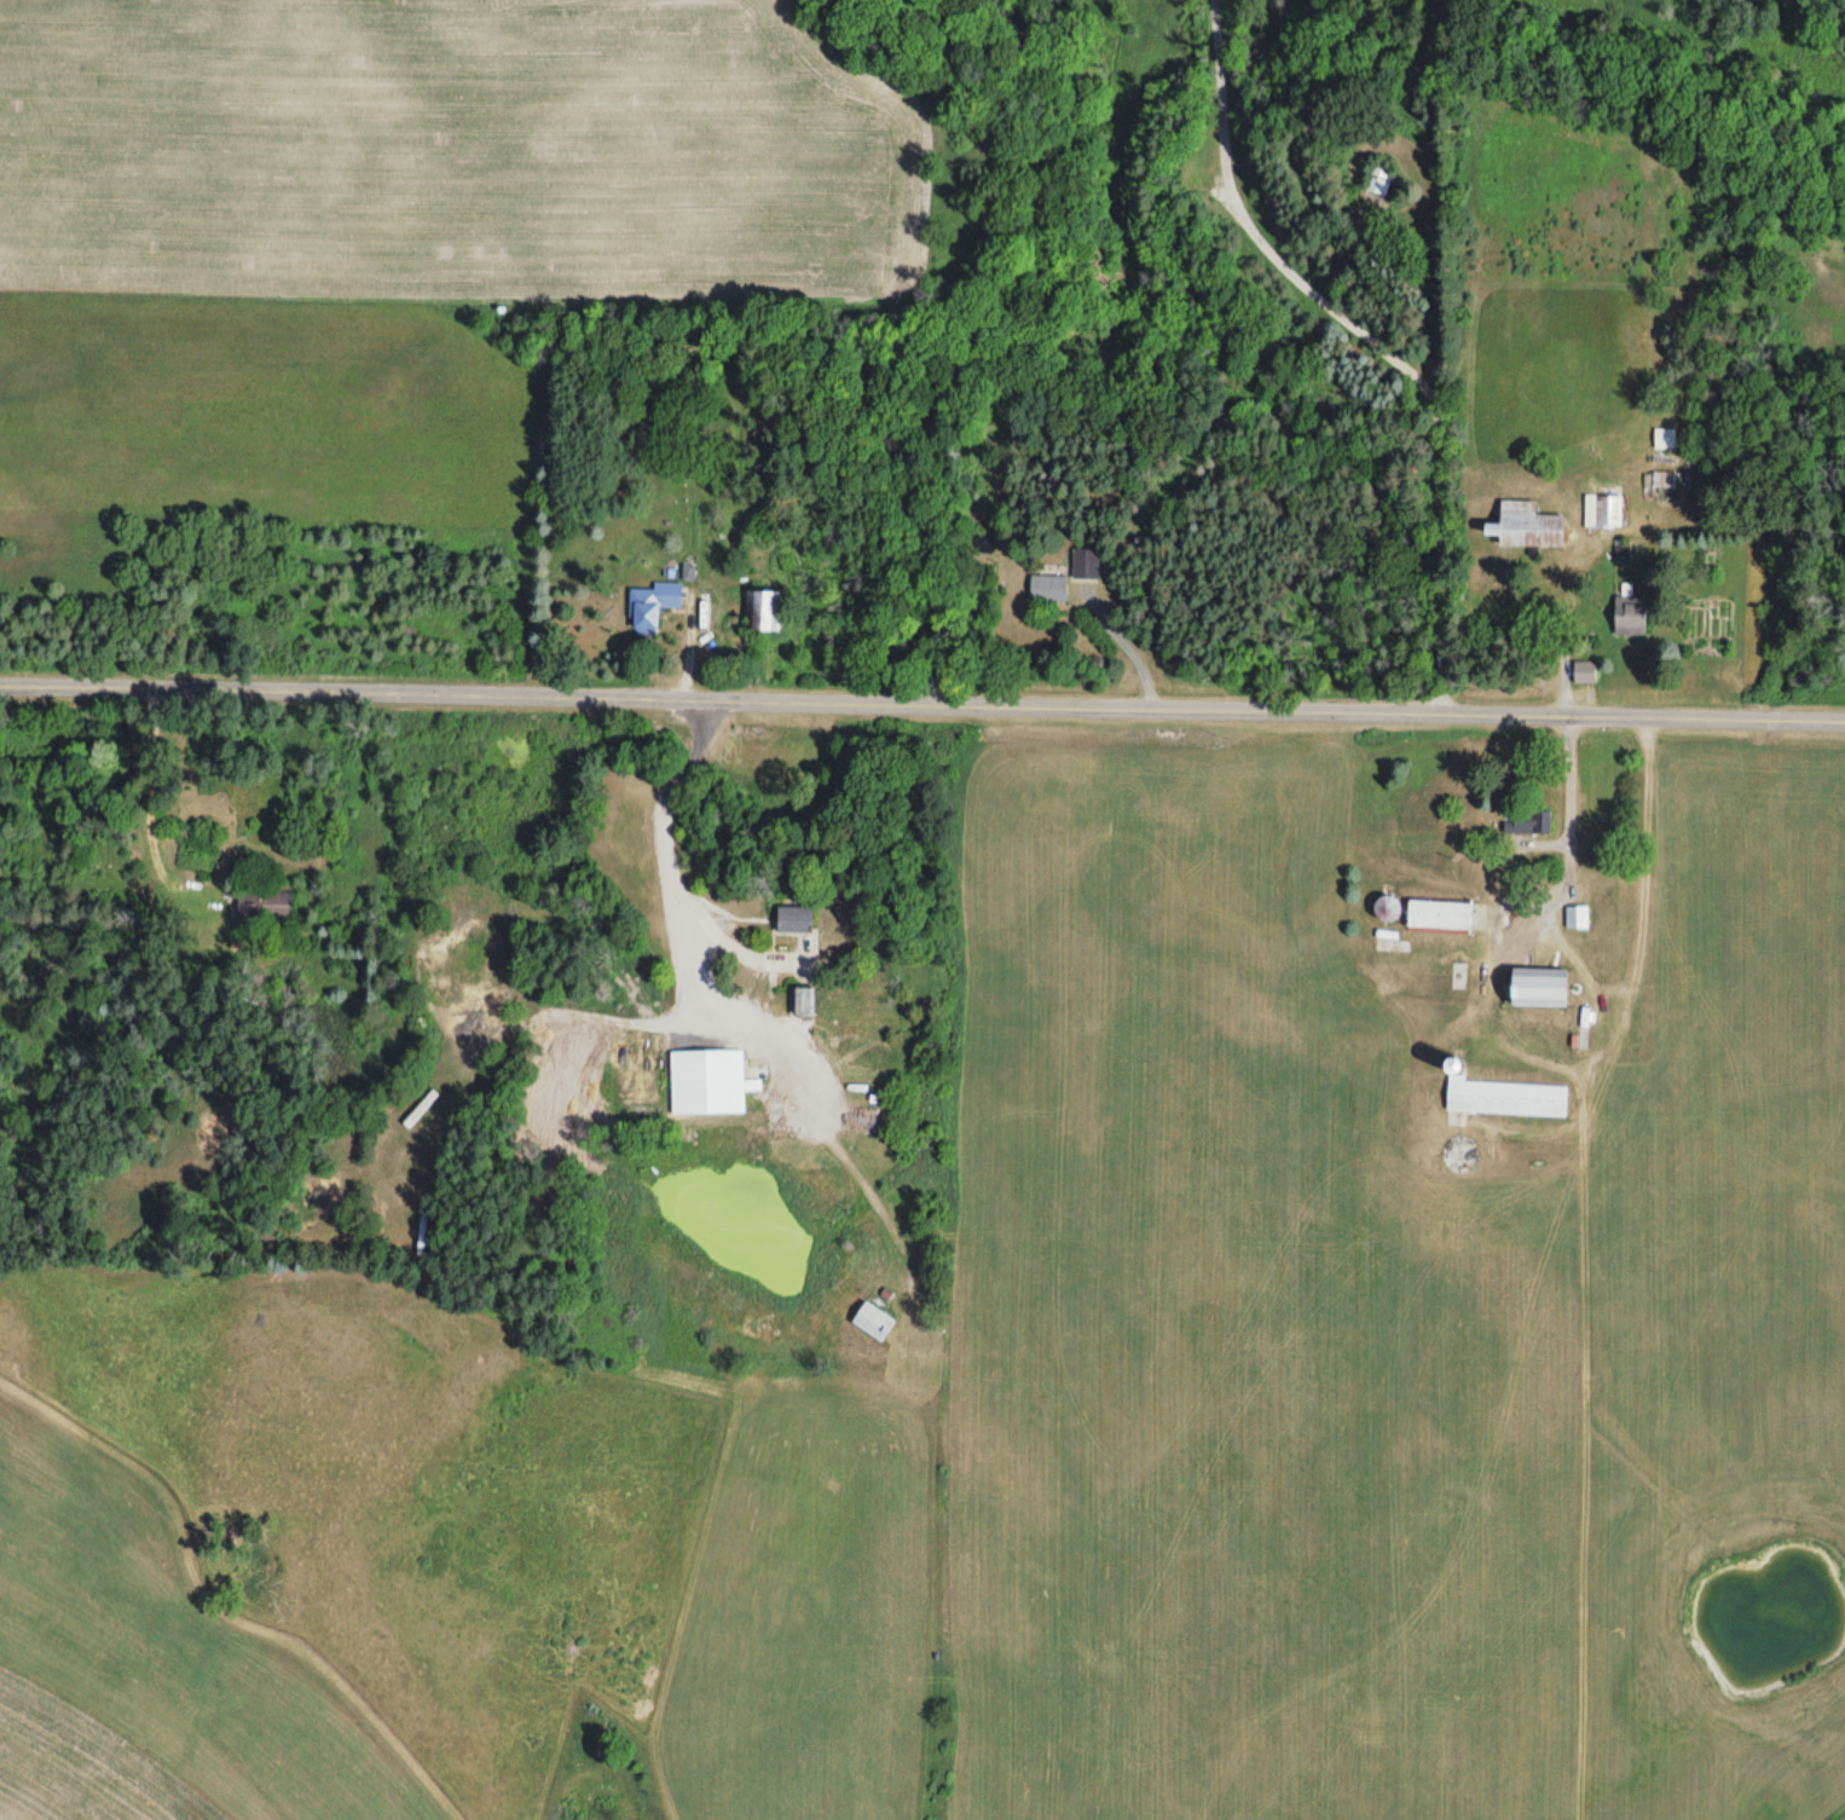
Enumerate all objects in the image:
building: (1380, 179)
building: (1666, 480)
building: (1609, 509)
building: (1525, 527)
building: (1087, 565)
building: (1049, 589)
building: (653, 602)
building: (765, 612)
building: (1630, 618)
building: (1585, 672)
road: (922, 710)
building: (1527, 821)
building: (265, 906)
building: (1387, 909)
building: (1440, 917)
building: (1577, 918)
building: (796, 919)
building: (1539, 988)
building: (804, 1003)
building: (708, 1082)
building: (1504, 1097)
building: (874, 1322)

